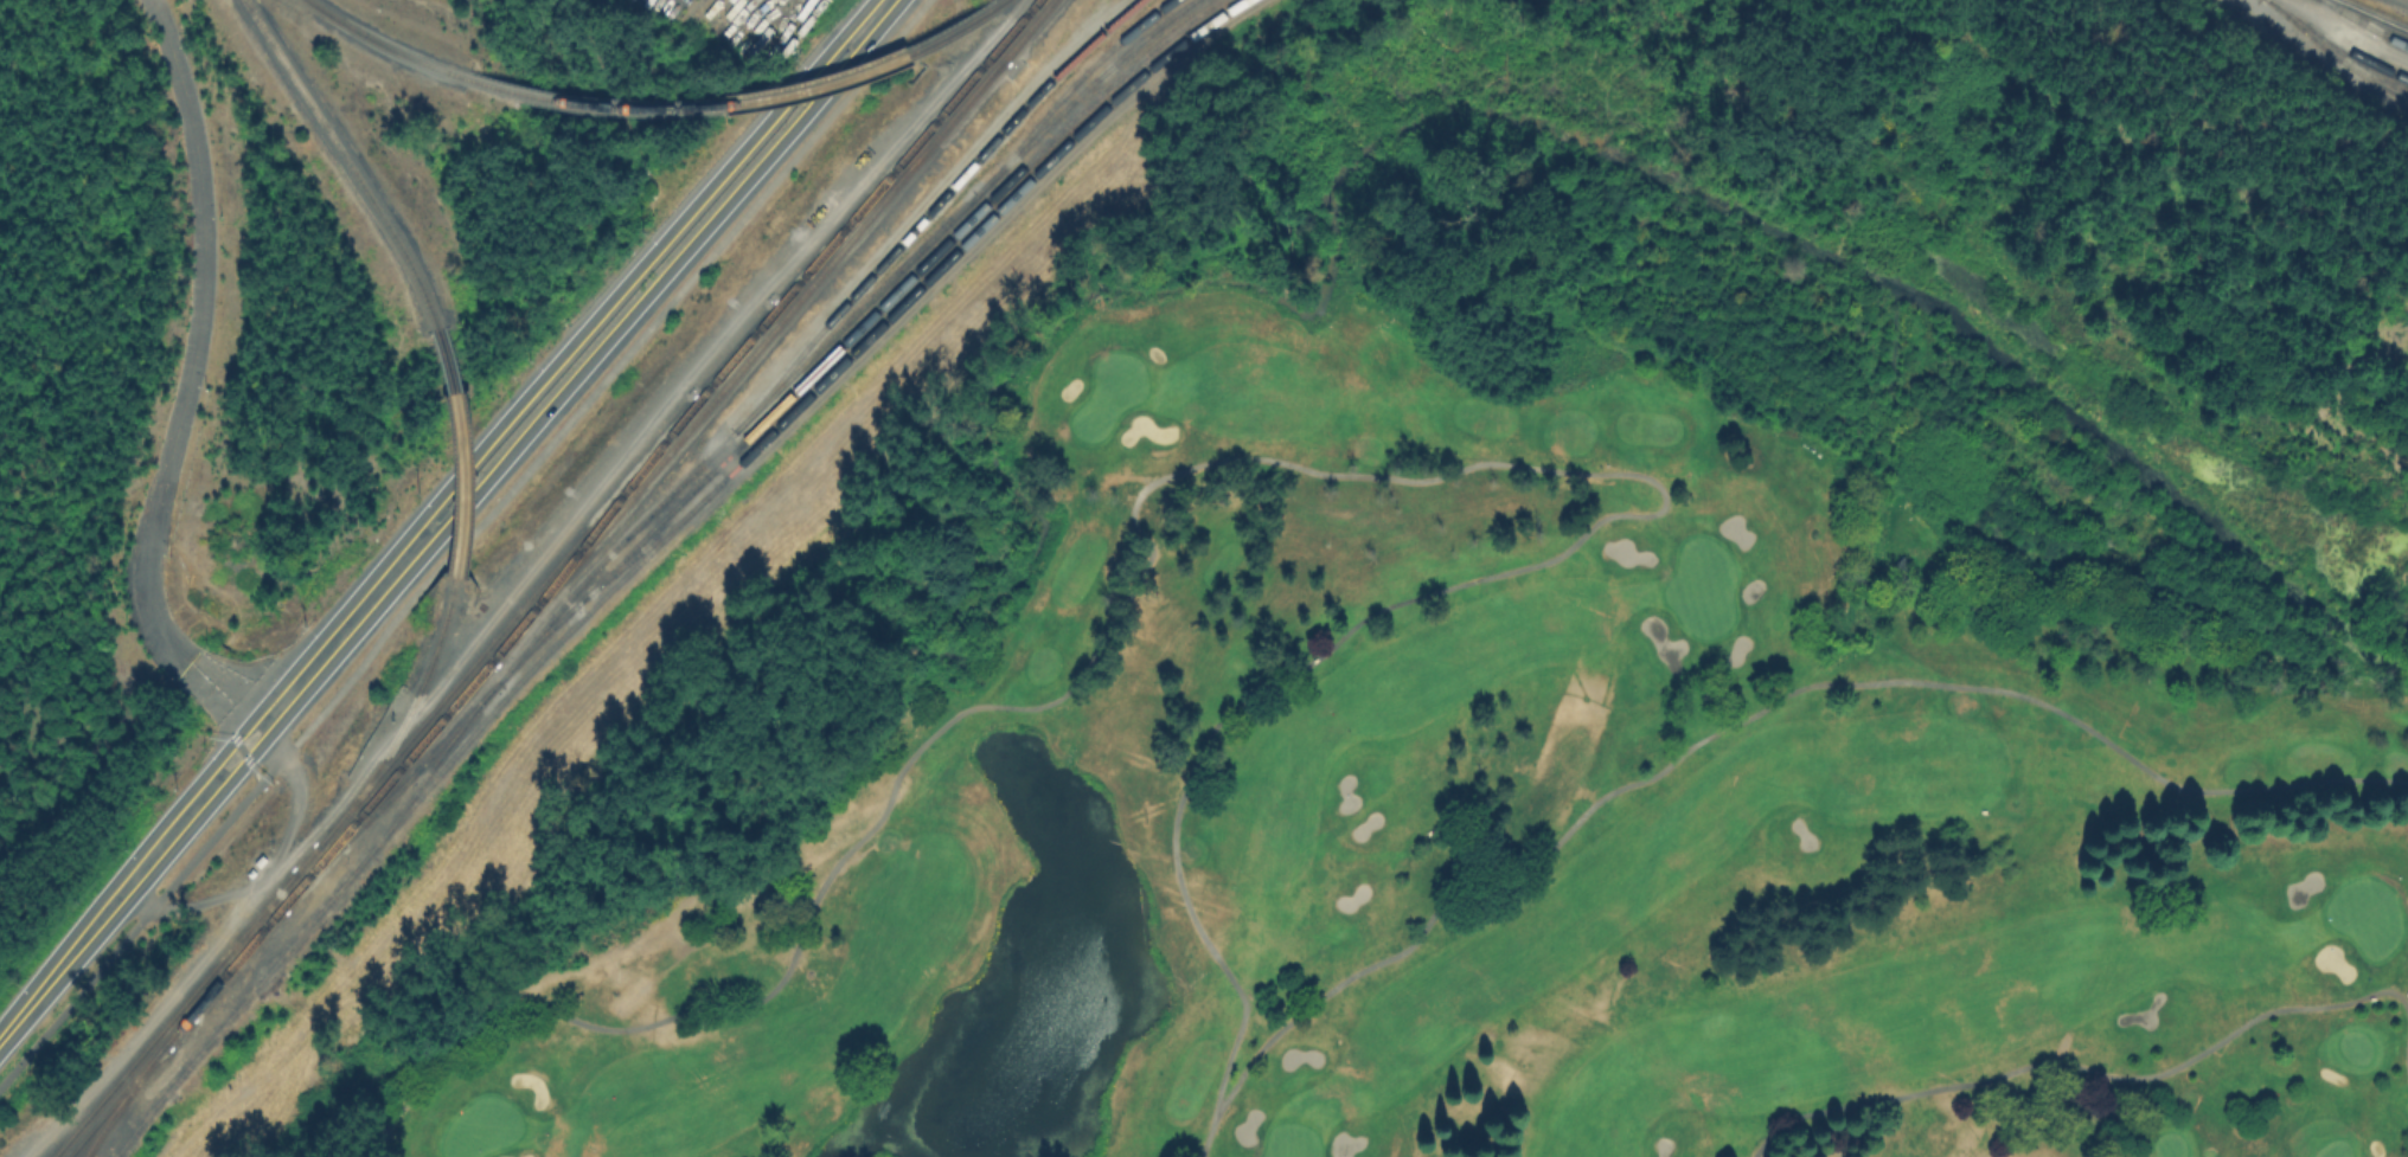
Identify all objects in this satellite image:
railway: (998, 1)
road: (2402, 1)
railway: (2372, 14)
road: (876, 15)
railway: (2364, 24)
railway: (1024, 28)
railway: (2337, 43)
railway: (384, 44)
railway: (2335, 53)
railway: (1065, 88)
railway: (738, 101)
railway: (905, 150)
railway: (347, 158)
railway: (888, 180)
railway: (929, 208)
railway: (851, 332)
road: (193, 336)
railway: (736, 351)
railway: (745, 358)
road: (595, 391)
road: (521, 401)
railway: (789, 410)
road: (540, 418)
railway: (461, 449)
road: (1315, 468)
railway: (593, 527)
railway: (616, 544)
railway: (638, 551)
railway: (495, 635)
road: (430, 694)
road: (1756, 707)
road: (238, 713)
railway: (404, 718)
park: (1385, 770)
railway: (389, 795)
railway: (340, 835)
building: (257, 859)
road: (271, 869)
building: (249, 870)
road: (261, 872)
road: (101, 917)
road: (130, 934)
railway: (242, 941)
railway: (173, 1014)
road: (2407, 1061)
road: (2080, 1065)
railway: (127, 1085)
railway: (122, 1099)

